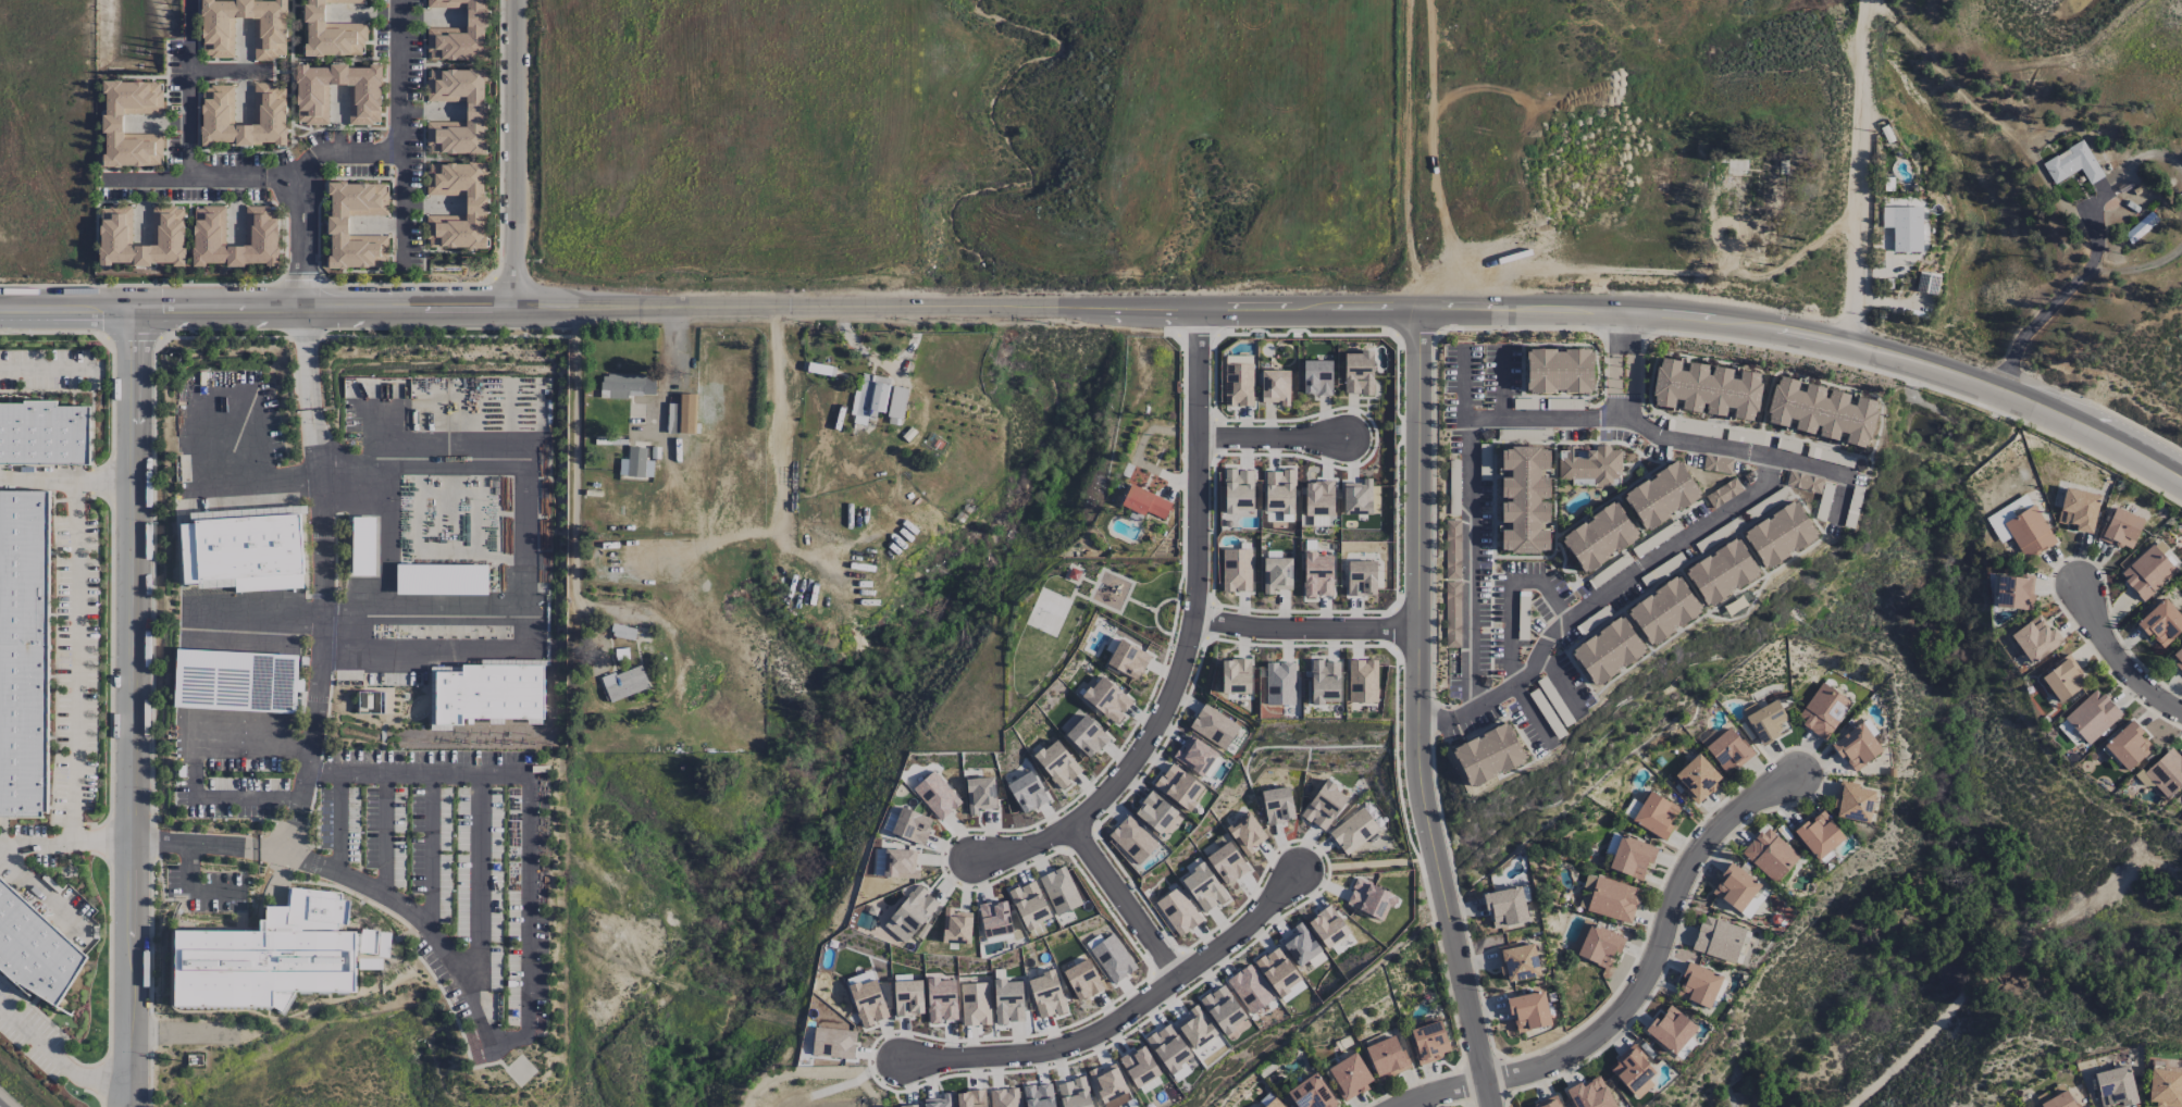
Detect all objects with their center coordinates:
building: (270, 25)
building: (332, 29)
building: (461, 32)
road: (333, 58)
road: (447, 63)
road: (282, 71)
road: (290, 72)
road: (142, 76)
road: (188, 90)
building: (364, 92)
building: (478, 109)
building: (271, 114)
building: (113, 121)
road: (402, 130)
road: (423, 133)
road: (343, 149)
road: (218, 152)
road: (166, 153)
road: (514, 154)
road: (447, 157)
building: (2072, 163)
road: (1859, 174)
road: (203, 182)
building: (476, 203)
road: (285, 217)
building: (338, 224)
building: (1904, 227)
building: (169, 228)
building: (210, 228)
road: (299, 246)
road: (447, 250)
road: (392, 283)
road: (302, 284)
road: (2050, 304)
road: (1366, 307)
road: (333, 310)
road: (1624, 327)
road: (46, 369)
building: (1560, 370)
parking lot: (1516, 371)
road: (662, 372)
building: (1359, 373)
road: (1615, 374)
road: (1629, 375)
parking lot: (1484, 376)
building: (1317, 377)
road: (1504, 384)
building: (628, 385)
building: (1238, 385)
building: (1276, 386)
building: (1707, 388)
road: (307, 393)
building: (869, 396)
parking lot: (1526, 403)
parking lot: (1565, 403)
building: (896, 405)
building: (1822, 411)
road: (1623, 412)
building: (682, 415)
road: (1615, 419)
road: (1489, 420)
parking lot: (1661, 420)
road: (780, 425)
parking lot: (1452, 428)
parking lot: (1695, 428)
building: (45, 434)
road: (1269, 437)
parking lot: (1748, 438)
parking lot: (1789, 446)
road: (2118, 446)
parking lot: (1647, 448)
road: (1766, 455)
parking lot: (1831, 456)
road: (359, 462)
building: (636, 463)
building: (1591, 465)
parking lot: (1739, 468)
road: (1198, 472)
road: (66, 476)
building: (1803, 482)
road: (575, 483)
building: (1238, 490)
building: (1279, 492)
building: (1723, 493)
building: (1662, 495)
building: (1357, 497)
building: (1319, 498)
building: (1525, 500)
parking lot: (1856, 500)
parking lot: (1825, 501)
building: (1145, 502)
parking lot: (1766, 502)
building: (2079, 509)
building: (2006, 517)
building: (2121, 528)
parking lot: (1833, 530)
building: (2029, 532)
parking lot: (1720, 534)
building: (1781, 534)
road: (525, 536)
building: (1600, 537)
building: (363, 546)
building: (245, 548)
parking lot: (1642, 549)
building: (2164, 550)
road: (1423, 556)
parking lot: (1525, 568)
building: (1237, 570)
parking lot: (1663, 570)
building: (1723, 572)
building: (2147, 572)
building: (1277, 574)
road: (1472, 574)
building: (1318, 575)
building: (442, 579)
parking lot: (1489, 583)
road: (1624, 583)
building: (1452, 584)
parking lot: (1561, 586)
building: (2014, 592)
road: (1512, 596)
parking lot: (1625, 596)
parking lot: (1542, 608)
building: (1664, 610)
parking lot: (1524, 617)
road: (252, 621)
building: (2161, 622)
parking lot: (1538, 625)
road: (1306, 627)
parking lot: (1584, 627)
road: (526, 632)
building: (625, 632)
building: (2035, 638)
building: (1609, 650)
building: (24, 654)
building: (2178, 657)
road: (77, 658)
building: (1127, 660)
road: (2121, 660)
road: (314, 663)
building: (1236, 675)
parking lot: (1455, 675)
parking lot: (1575, 679)
building: (2063, 679)
building: (236, 681)
building: (1363, 681)
building: (1325, 682)
building: (625, 683)
building: (1280, 683)
road: (1562, 683)
building: (1107, 699)
building: (371, 701)
parking lot: (1555, 701)
road: (131, 709)
building: (1823, 710)
parking lot: (1548, 713)
road: (1534, 714)
building: (2091, 716)
road: (1440, 719)
building: (1766, 721)
parking lot: (1473, 723)
building: (1214, 726)
parking lot: (1528, 729)
building: (1086, 737)
building: (1856, 746)
building: (2128, 746)
building: (1728, 750)
building: (1489, 755)
building: (1195, 756)
road: (194, 762)
building: (1057, 763)
building: (2165, 774)
building: (1697, 778)
road: (1113, 779)
building: (1179, 786)
building: (1027, 792)
building: (980, 794)
building: (937, 795)
building: (1854, 803)
building: (1278, 805)
building: (1324, 806)
building: (1155, 812)
building: (1654, 814)
road: (339, 821)
building: (912, 825)
building: (1353, 831)
road: (383, 832)
building: (1247, 833)
building: (1819, 835)
road: (63, 838)
building: (1132, 839)
road: (432, 848)
building: (1770, 854)
building: (1632, 857)
building: (1227, 863)
road: (476, 879)
building: (1203, 885)
building: (1735, 887)
road: (191, 891)
building: (1059, 891)
road: (42, 894)
road: (1126, 899)
building: (1371, 899)
building: (1613, 899)
building: (1755, 900)
building: (1029, 905)
building: (1505, 906)
building: (914, 910)
building: (1178, 911)
building: (995, 919)
building: (956, 926)
building: (1328, 926)
building: (1719, 938)
building: (1600, 946)
building: (1303, 947)
building: (34, 949)
building: (269, 955)
building: (1113, 958)
building: (1518, 961)
building: (1280, 974)
building: (1082, 980)
building: (1698, 985)
building: (1250, 988)
road: (1640, 990)
building: (1046, 995)
building: (908, 997)
building: (282, 999)
building: (867, 999)
building: (942, 999)
building: (1008, 1000)
building: (975, 1004)
building: (1223, 1008)
building: (1528, 1010)
road: (1127, 1013)
building: (1671, 1030)
road: (520, 1033)
building: (1202, 1035)
building: (1429, 1042)
building: (833, 1043)
building: (1685, 1048)
building: (1170, 1052)
road: (58, 1057)
building: (1387, 1057)
building: (1140, 1066)
building: (1633, 1072)
building: (1350, 1075)
building: (1109, 1085)
building: (2116, 1086)
building: (2165, 1087)
building: (1075, 1093)
building: (1311, 1093)
building: (1590, 1094)
building: (1039, 1095)
building: (1005, 1097)
building: (971, 1098)
building: (1272, 1103)
building: (1547, 1103)
building: (909, 1106)

